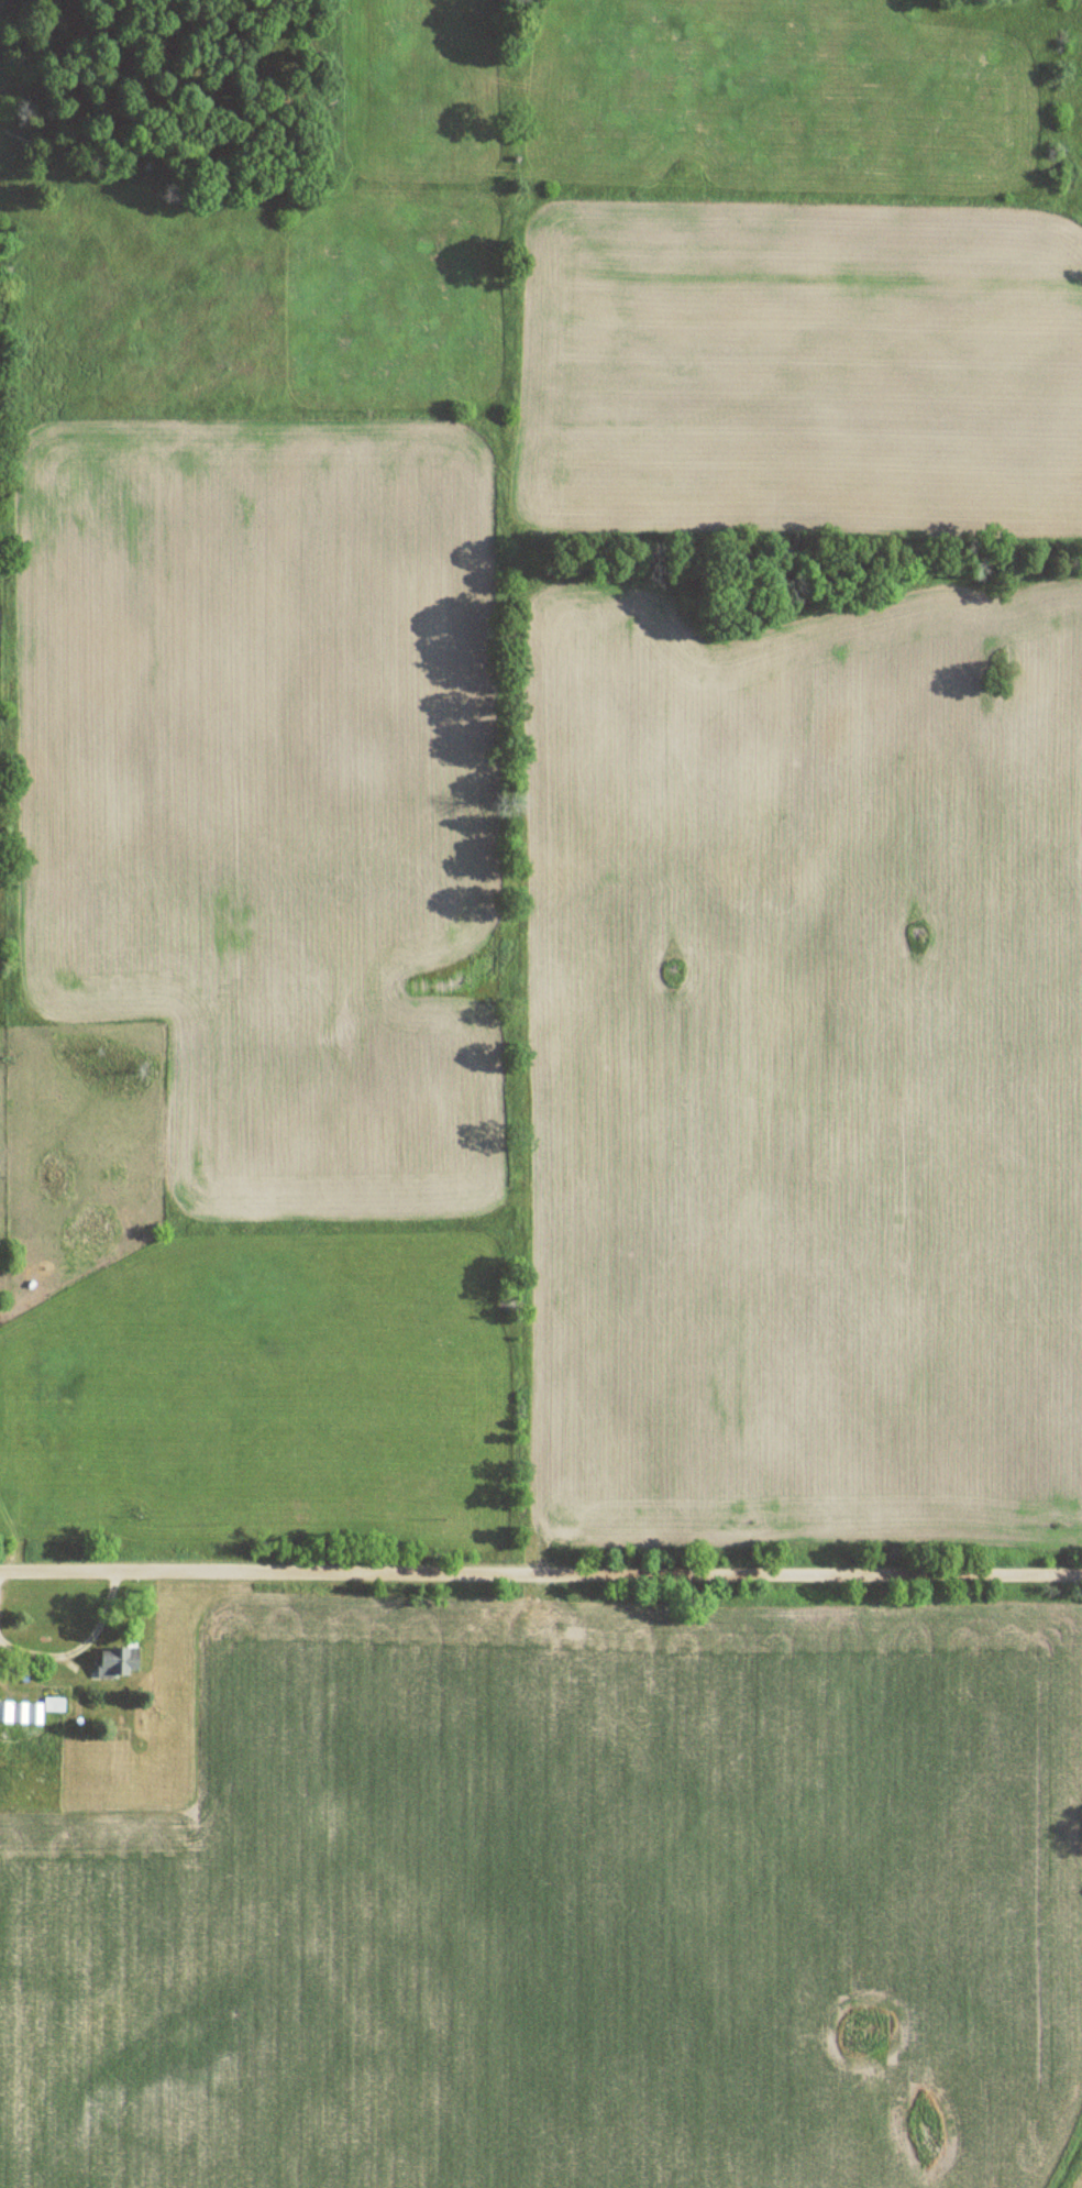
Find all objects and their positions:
road: (541, 1576)
building: (121, 1663)

